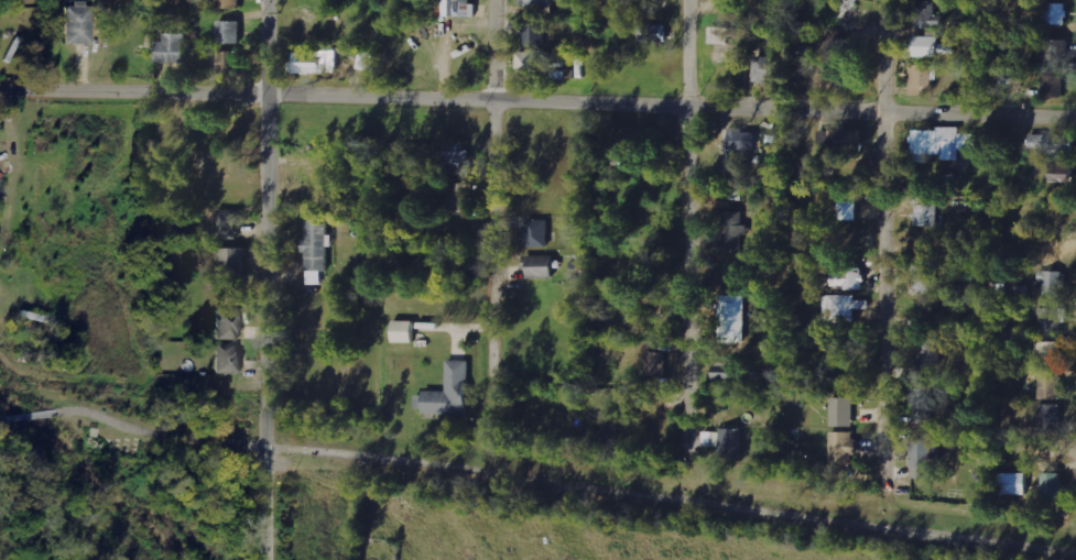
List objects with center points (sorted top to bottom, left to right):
building: (229, 4)
building: (539, 7)
building: (465, 8)
building: (1054, 13)
building: (926, 15)
building: (78, 24)
building: (229, 32)
building: (652, 33)
building: (534, 36)
building: (719, 36)
building: (933, 47)
building: (173, 48)
building: (845, 48)
building: (366, 61)
building: (228, 62)
building: (313, 63)
building: (528, 63)
building: (771, 69)
building: (1004, 76)
building: (921, 79)
building: (1053, 86)
road: (537, 103)
building: (742, 139)
building: (848, 140)
building: (943, 143)
building: (1052, 143)
building: (452, 158)
building: (1062, 173)
road: (497, 196)
building: (460, 197)
building: (848, 204)
road: (684, 210)
building: (926, 215)
building: (229, 223)
road: (882, 223)
building: (731, 230)
building: (536, 233)
building: (316, 251)
building: (232, 257)
building: (541, 266)
building: (923, 276)
building: (849, 278)
road: (267, 279)
building: (1051, 281)
building: (843, 308)
building: (1050, 316)
building: (732, 318)
building: (228, 327)
building: (404, 331)
building: (930, 351)
building: (1047, 353)
building: (228, 359)
building: (656, 363)
building: (1050, 384)
building: (450, 391)
building: (923, 405)
building: (843, 411)
road: (30, 415)
road: (2, 418)
building: (1048, 418)
building: (609, 426)
park: (120, 438)
building: (713, 439)
building: (732, 442)
building: (844, 446)
building: (924, 459)
building: (1014, 483)
road: (565, 485)
building: (1053, 485)
park: (665, 490)

